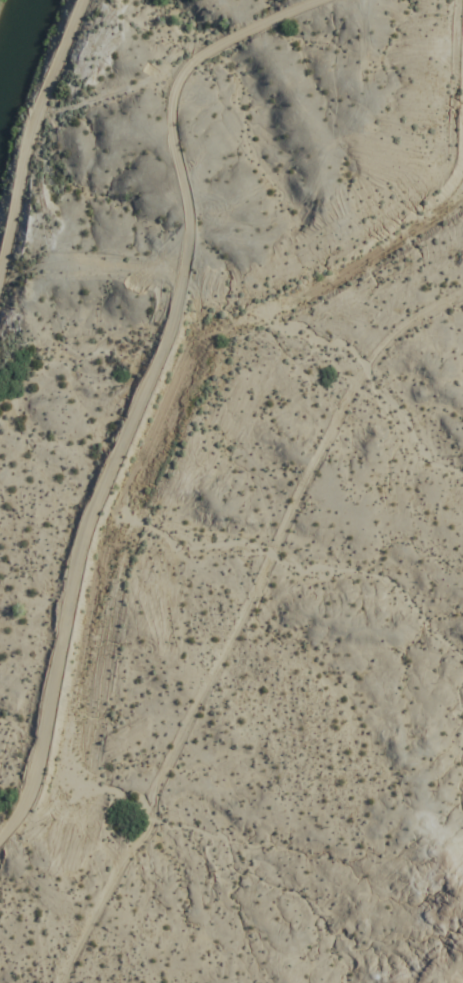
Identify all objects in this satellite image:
river: (18, 45)

